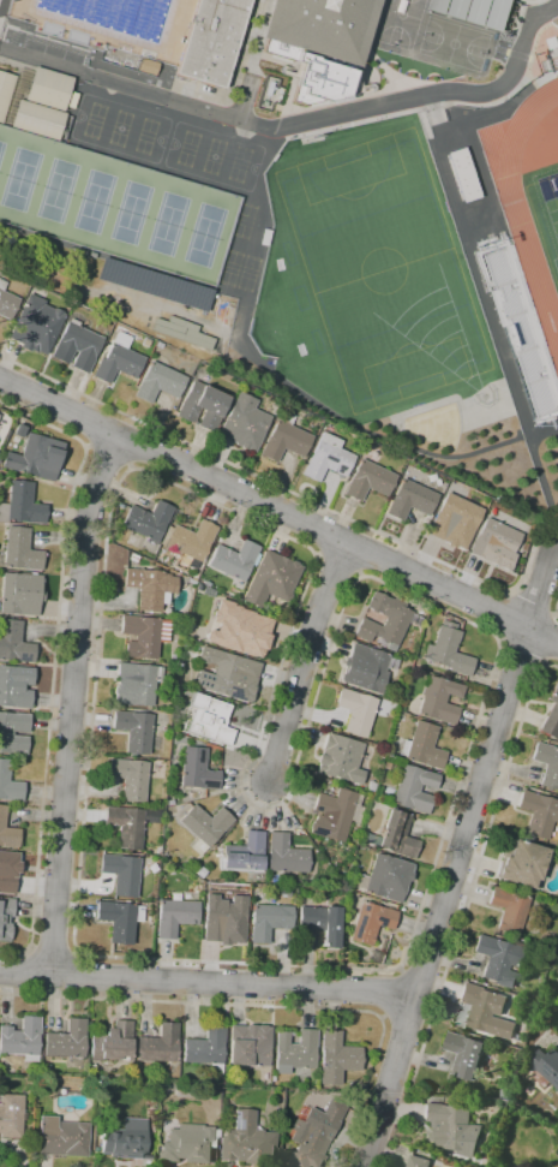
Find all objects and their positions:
building: (440, 5)
building: (461, 8)
building: (480, 11)
building: (500, 14)
park: (398, 23)
building: (322, 26)
building: (211, 41)
park: (454, 43)
building: (49, 89)
building: (5, 91)
building: (37, 119)
road: (299, 123)
road: (479, 167)
track: (542, 186)
park: (114, 206)
track: (523, 207)
park: (546, 207)
building: (92, 255)
road: (472, 267)
park: (368, 275)
building: (155, 284)
rooftop solar panel: (161, 290)
road: (115, 293)
building: (6, 303)
building: (35, 326)
building: (181, 332)
building: (518, 338)
building: (145, 343)
building: (77, 345)
building: (158, 345)
building: (119, 361)
building: (158, 382)
road: (312, 401)
building: (202, 406)
building: (286, 418)
building: (244, 423)
park: (434, 425)
road: (96, 427)
road: (542, 431)
building: (284, 441)
road: (139, 446)
building: (36, 458)
road: (107, 458)
building: (326, 458)
rooftop solar panel: (328, 459)
rooftop solar panel: (338, 469)
building: (433, 478)
building: (368, 481)
road: (286, 490)
building: (410, 500)
road: (263, 502)
building: (22, 505)
building: (148, 522)
building: (454, 522)
building: (192, 541)
building: (496, 543)
building: (20, 550)
building: (133, 558)
building: (234, 560)
road: (311, 566)
building: (271, 579)
building: (150, 588)
building: (199, 589)
building: (20, 594)
road: (529, 605)
road: (556, 607)
road: (499, 615)
building: (385, 620)
building: (239, 629)
road: (542, 633)
building: (143, 636)
road: (548, 638)
building: (14, 643)
building: (448, 650)
road: (520, 655)
rooftop solar panel: (22, 659)
road: (304, 661)
road: (54, 663)
building: (365, 668)
building: (228, 674)
rooftop solar panel: (199, 677)
rooftop solar panel: (204, 677)
rooftop solar panel: (209, 677)
rooftop solar panel: (199, 683)
building: (136, 684)
rooftop solar panel: (204, 684)
building: (14, 686)
rooftop solar panel: (208, 686)
rooftop solar panel: (236, 695)
building: (439, 699)
road: (73, 702)
building: (356, 710)
building: (551, 716)
building: (209, 719)
building: (133, 732)
building: (6, 734)
building: (422, 746)
building: (340, 760)
building: (547, 763)
building: (198, 769)
building: (130, 778)
building: (8, 784)
building: (371, 786)
building: (412, 786)
building: (170, 810)
building: (539, 814)
building: (152, 815)
building: (335, 815)
building: (126, 826)
building: (204, 827)
building: (7, 832)
building: (397, 835)
building: (370, 839)
road: (460, 852)
building: (245, 853)
building: (284, 855)
building: (522, 864)
road: (476, 867)
building: (8, 871)
building: (199, 871)
building: (121, 874)
building: (385, 877)
building: (276, 880)
rooftop solar panel: (362, 909)
building: (509, 910)
building: (175, 916)
building: (5, 917)
building: (120, 919)
building: (224, 919)
building: (270, 921)
rooftop solar panel: (379, 921)
building: (371, 922)
building: (318, 925)
rooftop solar panel: (358, 927)
road: (53, 949)
building: (373, 955)
building: (498, 959)
road: (209, 982)
road: (390, 994)
road: (228, 1005)
building: (487, 1011)
building: (22, 1038)
building: (66, 1041)
building: (113, 1042)
building: (158, 1044)
building: (248, 1046)
building: (206, 1049)
building: (294, 1052)
building: (464, 1054)
building: (336, 1058)
building: (546, 1065)
building: (10, 1115)
rooftop solar panel: (235, 1124)
building: (454, 1129)
building: (312, 1135)
building: (60, 1137)
building: (124, 1139)
building: (246, 1141)
building: (186, 1143)
building: (418, 1161)

